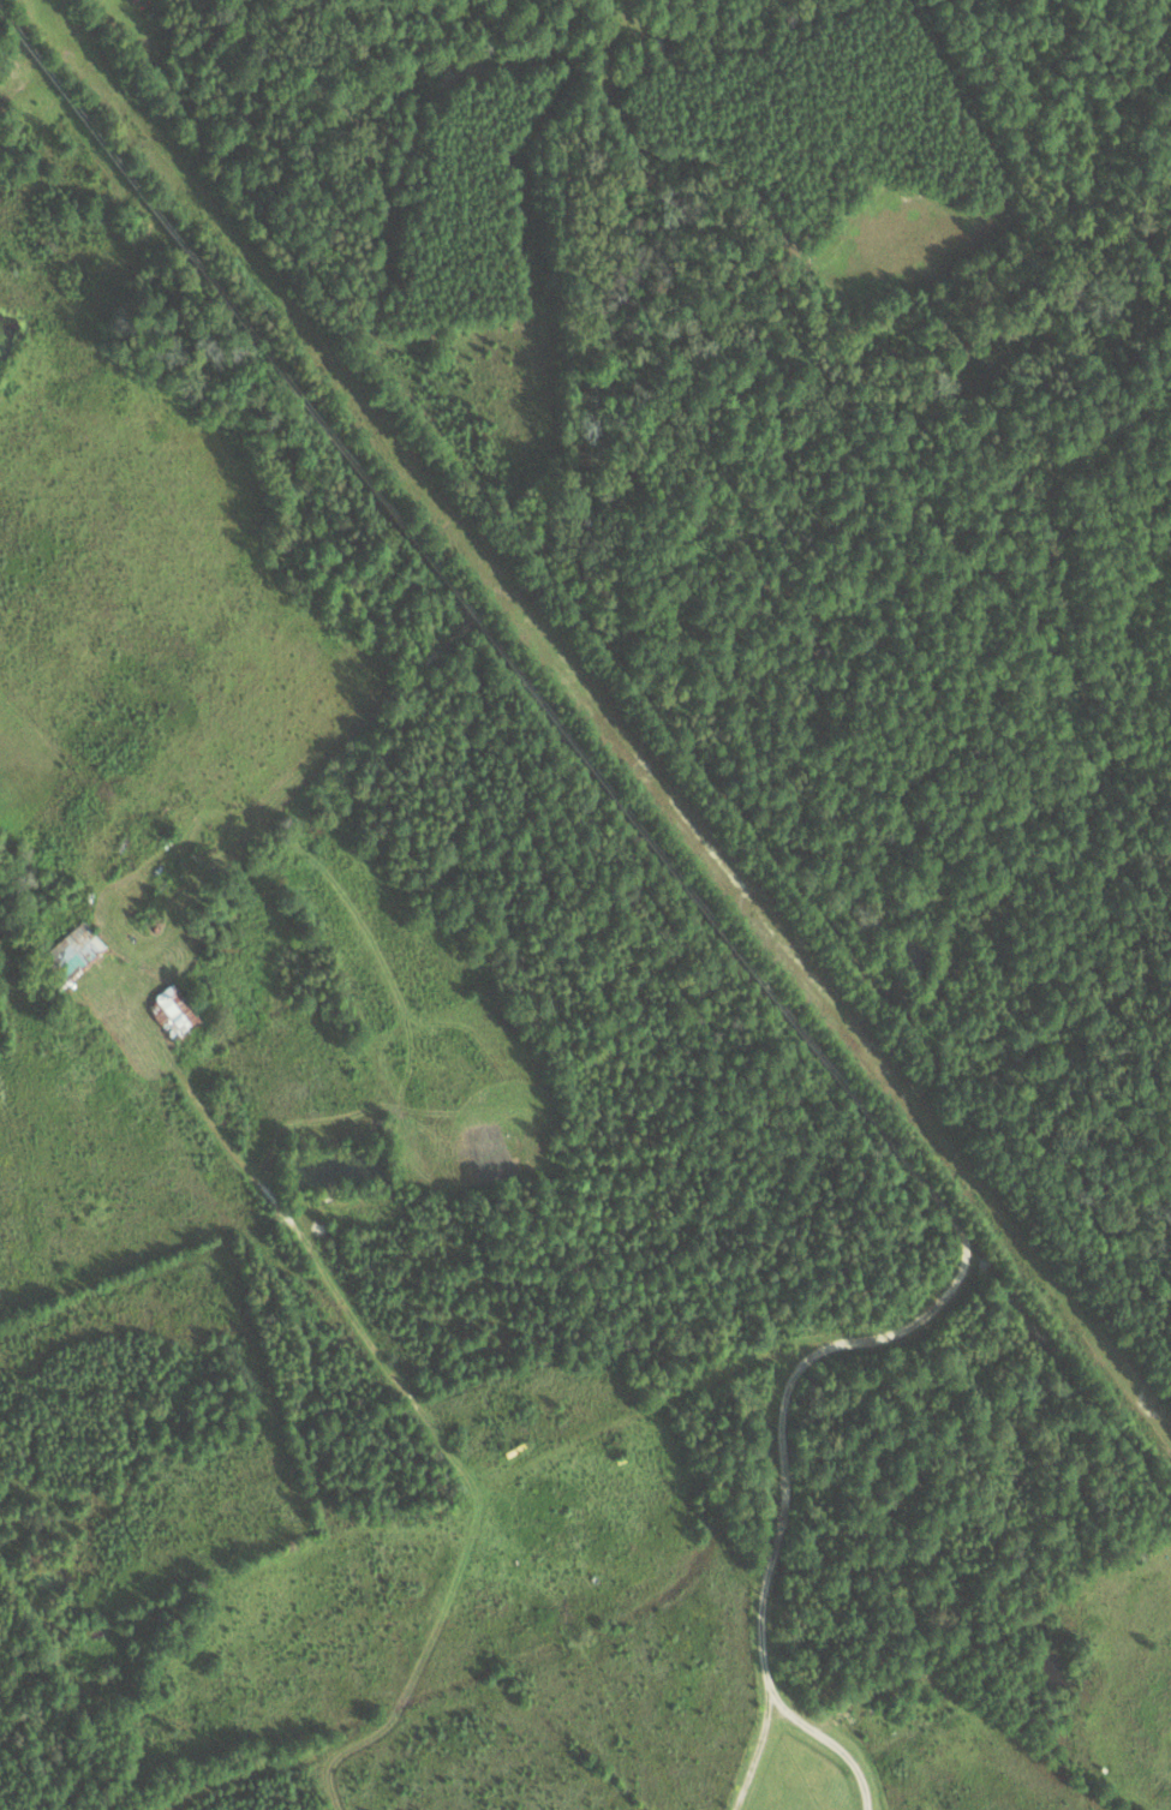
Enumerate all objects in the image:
building: (71, 952)
building: (173, 1012)

